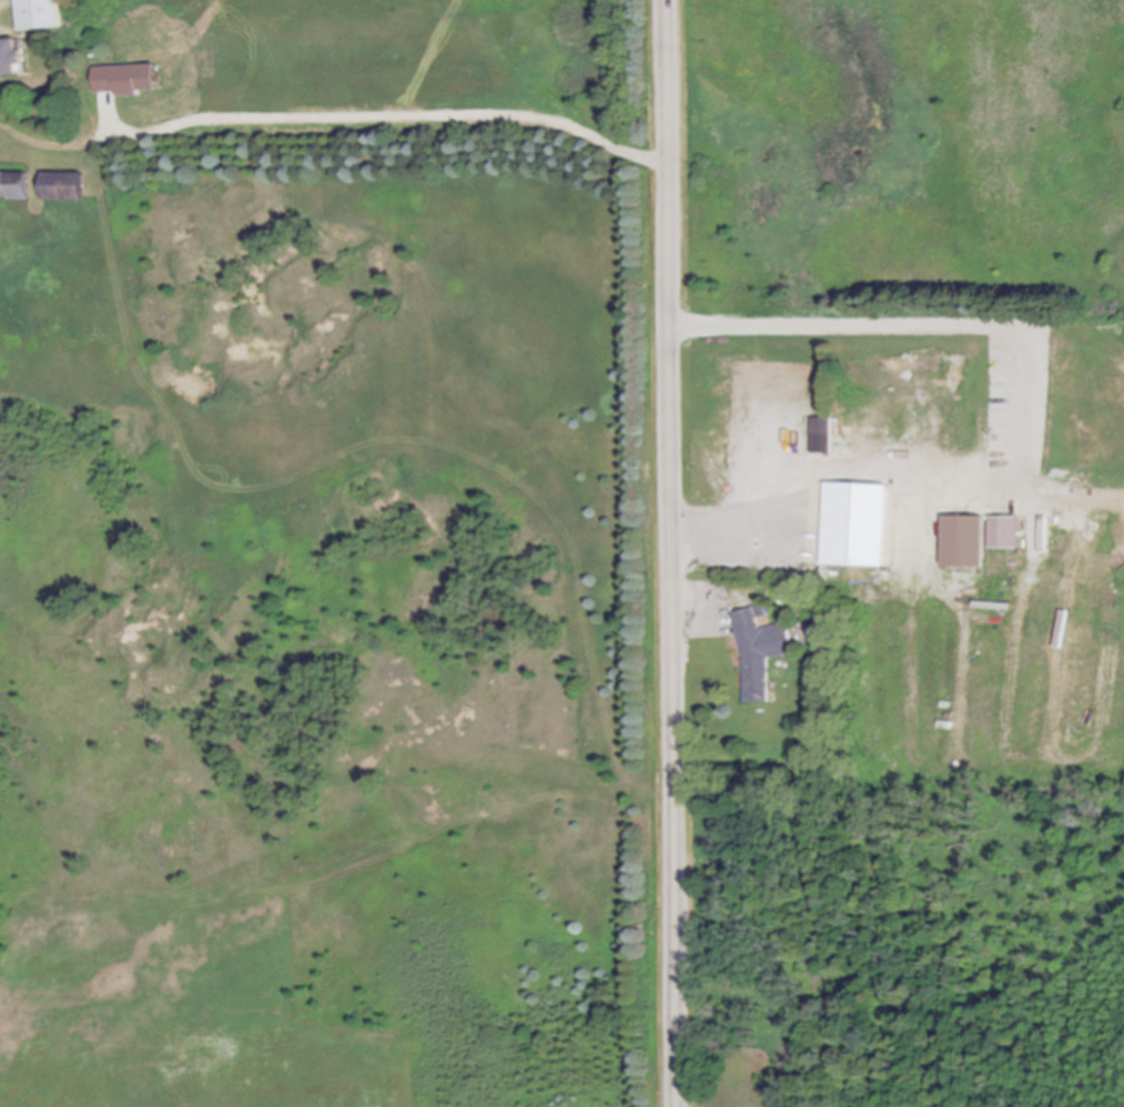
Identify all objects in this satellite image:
building: (44, 14)
building: (13, 59)
building: (129, 80)
road: (331, 125)
building: (17, 186)
building: (68, 186)
building: (821, 437)
building: (858, 526)
road: (721, 534)
building: (980, 540)
road: (675, 552)
building: (760, 650)

